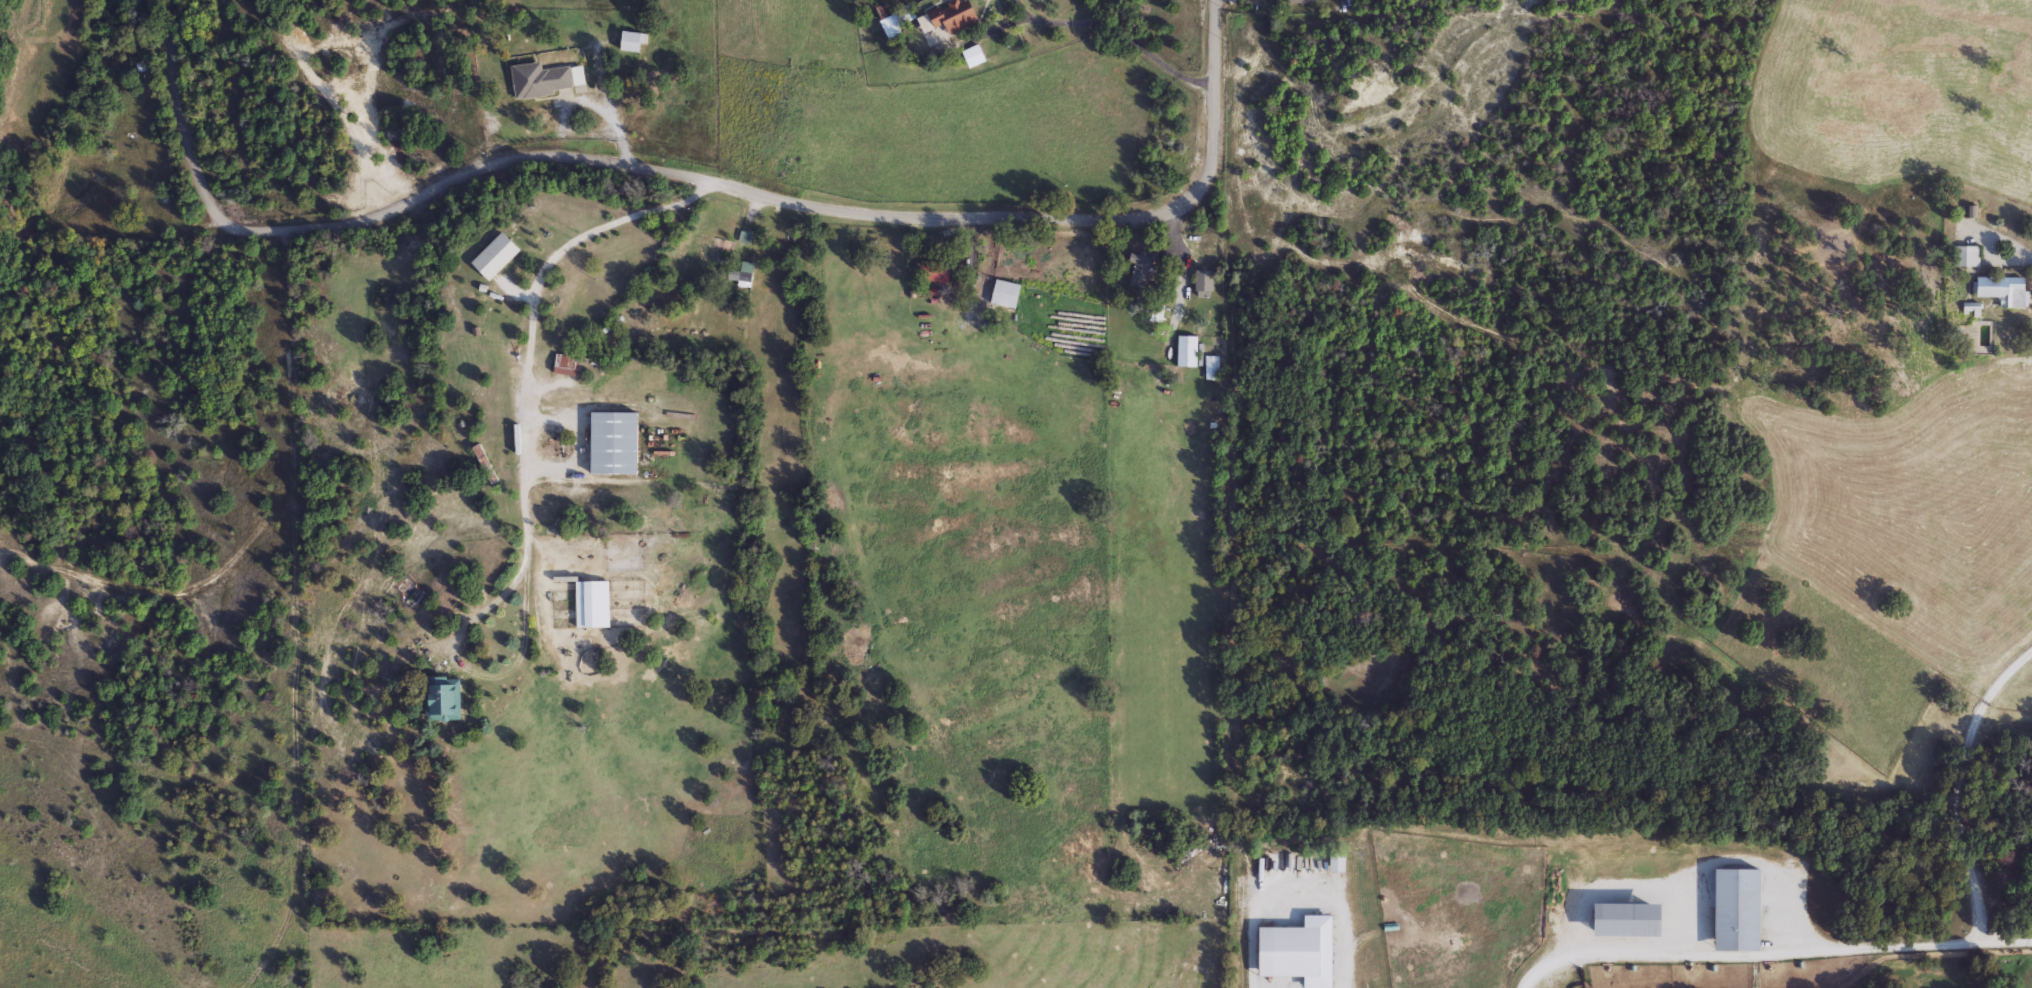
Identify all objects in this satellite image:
building: (952, 16)
building: (896, 23)
road: (1119, 30)
building: (629, 42)
building: (974, 57)
building: (1833, 58)
building: (539, 80)
road: (687, 177)
road: (2003, 234)
building: (705, 252)
building: (1966, 256)
building: (493, 257)
road: (1183, 262)
building: (933, 271)
building: (1203, 284)
building: (2001, 290)
building: (1004, 295)
building: (1155, 311)
road: (530, 315)
building: (1186, 352)
building: (565, 365)
building: (1211, 368)
building: (613, 444)
building: (484, 465)
building: (592, 605)
road: (295, 616)
road: (479, 672)
building: (441, 700)
road: (1954, 782)
building: (1734, 911)
building: (1622, 921)
road: (1770, 955)

